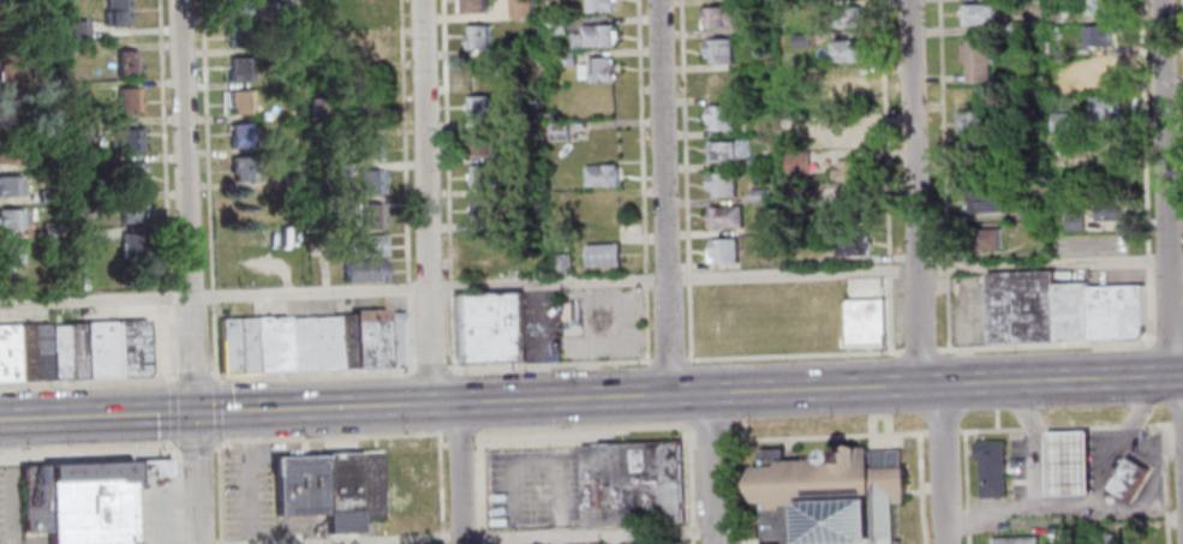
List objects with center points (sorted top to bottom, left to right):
road: (1182, 4)
building: (237, 6)
building: (599, 6)
building: (474, 7)
building: (1098, 7)
building: (520, 8)
building: (282, 10)
building: (118, 12)
building: (363, 14)
building: (978, 16)
building: (6, 17)
building: (1057, 17)
building: (721, 18)
building: (844, 18)
building: (556, 25)
building: (79, 28)
building: (755, 28)
building: (1014, 28)
building: (238, 35)
building: (1098, 36)
building: (316, 37)
building: (595, 37)
building: (477, 38)
building: (801, 41)
building: (365, 48)
building: (520, 48)
building: (718, 50)
building: (846, 52)
building: (564, 59)
building: (129, 61)
building: (976, 61)
building: (239, 68)
building: (597, 71)
building: (10, 72)
building: (477, 73)
building: (1103, 73)
building: (364, 82)
building: (516, 83)
building: (724, 83)
building: (1062, 88)
building: (843, 90)
building: (130, 98)
building: (239, 102)
building: (317, 106)
building: (11, 108)
building: (1106, 108)
building: (478, 109)
building: (365, 115)
building: (721, 118)
building: (514, 120)
building: (1059, 122)
building: (973, 124)
building: (78, 126)
road: (1145, 126)
road: (943, 130)
road: (686, 131)
road: (885, 131)
building: (558, 132)
building: (240, 134)
road: (641, 134)
building: (849, 136)
building: (130, 138)
road: (404, 139)
road: (446, 139)
road: (165, 143)
road: (208, 144)
building: (480, 144)
building: (1112, 144)
building: (287, 147)
building: (366, 148)
building: (10, 149)
building: (973, 150)
building: (727, 151)
building: (50, 157)
building: (796, 162)
building: (243, 168)
building: (337, 169)
building: (850, 171)
building: (132, 173)
building: (602, 177)
building: (483, 178)
building: (289, 179)
building: (369, 180)
building: (11, 185)
building: (722, 185)
road: (1165, 187)
building: (48, 191)
road: (915, 192)
building: (807, 193)
building: (759, 195)
road: (664, 197)
road: (425, 202)
building: (85, 203)
building: (852, 203)
building: (982, 203)
building: (131, 210)
building: (483, 210)
building: (1106, 210)
building: (1028, 214)
building: (11, 216)
building: (370, 216)
building: (725, 217)
building: (1075, 221)
building: (49, 229)
building: (984, 239)
building: (486, 244)
building: (852, 245)
building: (54, 246)
building: (1100, 246)
building: (133, 247)
building: (363, 247)
building: (11, 251)
building: (724, 251)
building: (603, 257)
road: (1148, 259)
building: (563, 261)
road: (889, 267)
road: (948, 267)
road: (189, 271)
building: (363, 271)
road: (689, 274)
road: (645, 277)
road: (591, 281)
road: (450, 285)
road: (410, 286)
road: (169, 294)
road: (214, 294)
road: (1148, 304)
building: (1021, 309)
road: (890, 312)
road: (949, 312)
building: (1071, 313)
building: (1116, 313)
road: (688, 322)
building: (864, 323)
road: (646, 324)
building: (488, 328)
road: (450, 329)
road: (410, 331)
road: (215, 339)
road: (1166, 340)
road: (171, 341)
building: (311, 343)
road: (1044, 346)
building: (130, 349)
building: (98, 351)
road: (918, 351)
building: (73, 352)
building: (30, 353)
building: (56, 353)
building: (7, 354)
road: (793, 354)
road: (669, 360)
road: (549, 364)
road: (431, 367)
road: (313, 371)
road: (195, 375)
road: (88, 382)
road: (814, 389)
road: (994, 396)
road: (742, 406)
road: (216, 410)
road: (172, 411)
road: (222, 412)
traffic signals: (193, 413)
road: (1026, 416)
road: (996, 419)
road: (1131, 422)
road: (1177, 422)
road: (1065, 428)
road: (582, 429)
road: (743, 429)
road: (944, 431)
road: (323, 436)
road: (825, 436)
road: (479, 437)
road: (1068, 440)
road: (709, 441)
road: (692, 442)
road: (443, 443)
road: (460, 443)
road: (476, 443)
road: (195, 449)
road: (89, 455)
road: (532, 460)
road: (942, 465)
building: (1068, 465)
building: (147, 468)
road: (711, 468)
building: (991, 470)
road: (460, 473)
road: (245, 477)
building: (1127, 480)
road: (438, 482)
road: (1164, 483)
building: (631, 484)
road: (688, 484)
building: (366, 485)
building: (386, 485)
building: (413, 485)
building: (297, 486)
road: (921, 488)
road: (967, 488)
parking lot: (533, 489)
road: (216, 491)
road: (734, 491)
road: (173, 492)
building: (339, 492)
road: (482, 492)
parking lot: (244, 494)
building: (830, 497)
road: (1099, 498)
building: (29, 501)
building: (86, 503)
road: (441, 538)
road: (544, 538)
building: (1112, 539)
building: (1015, 540)
road: (217, 542)
road: (175, 543)
building: (1130, 543)

